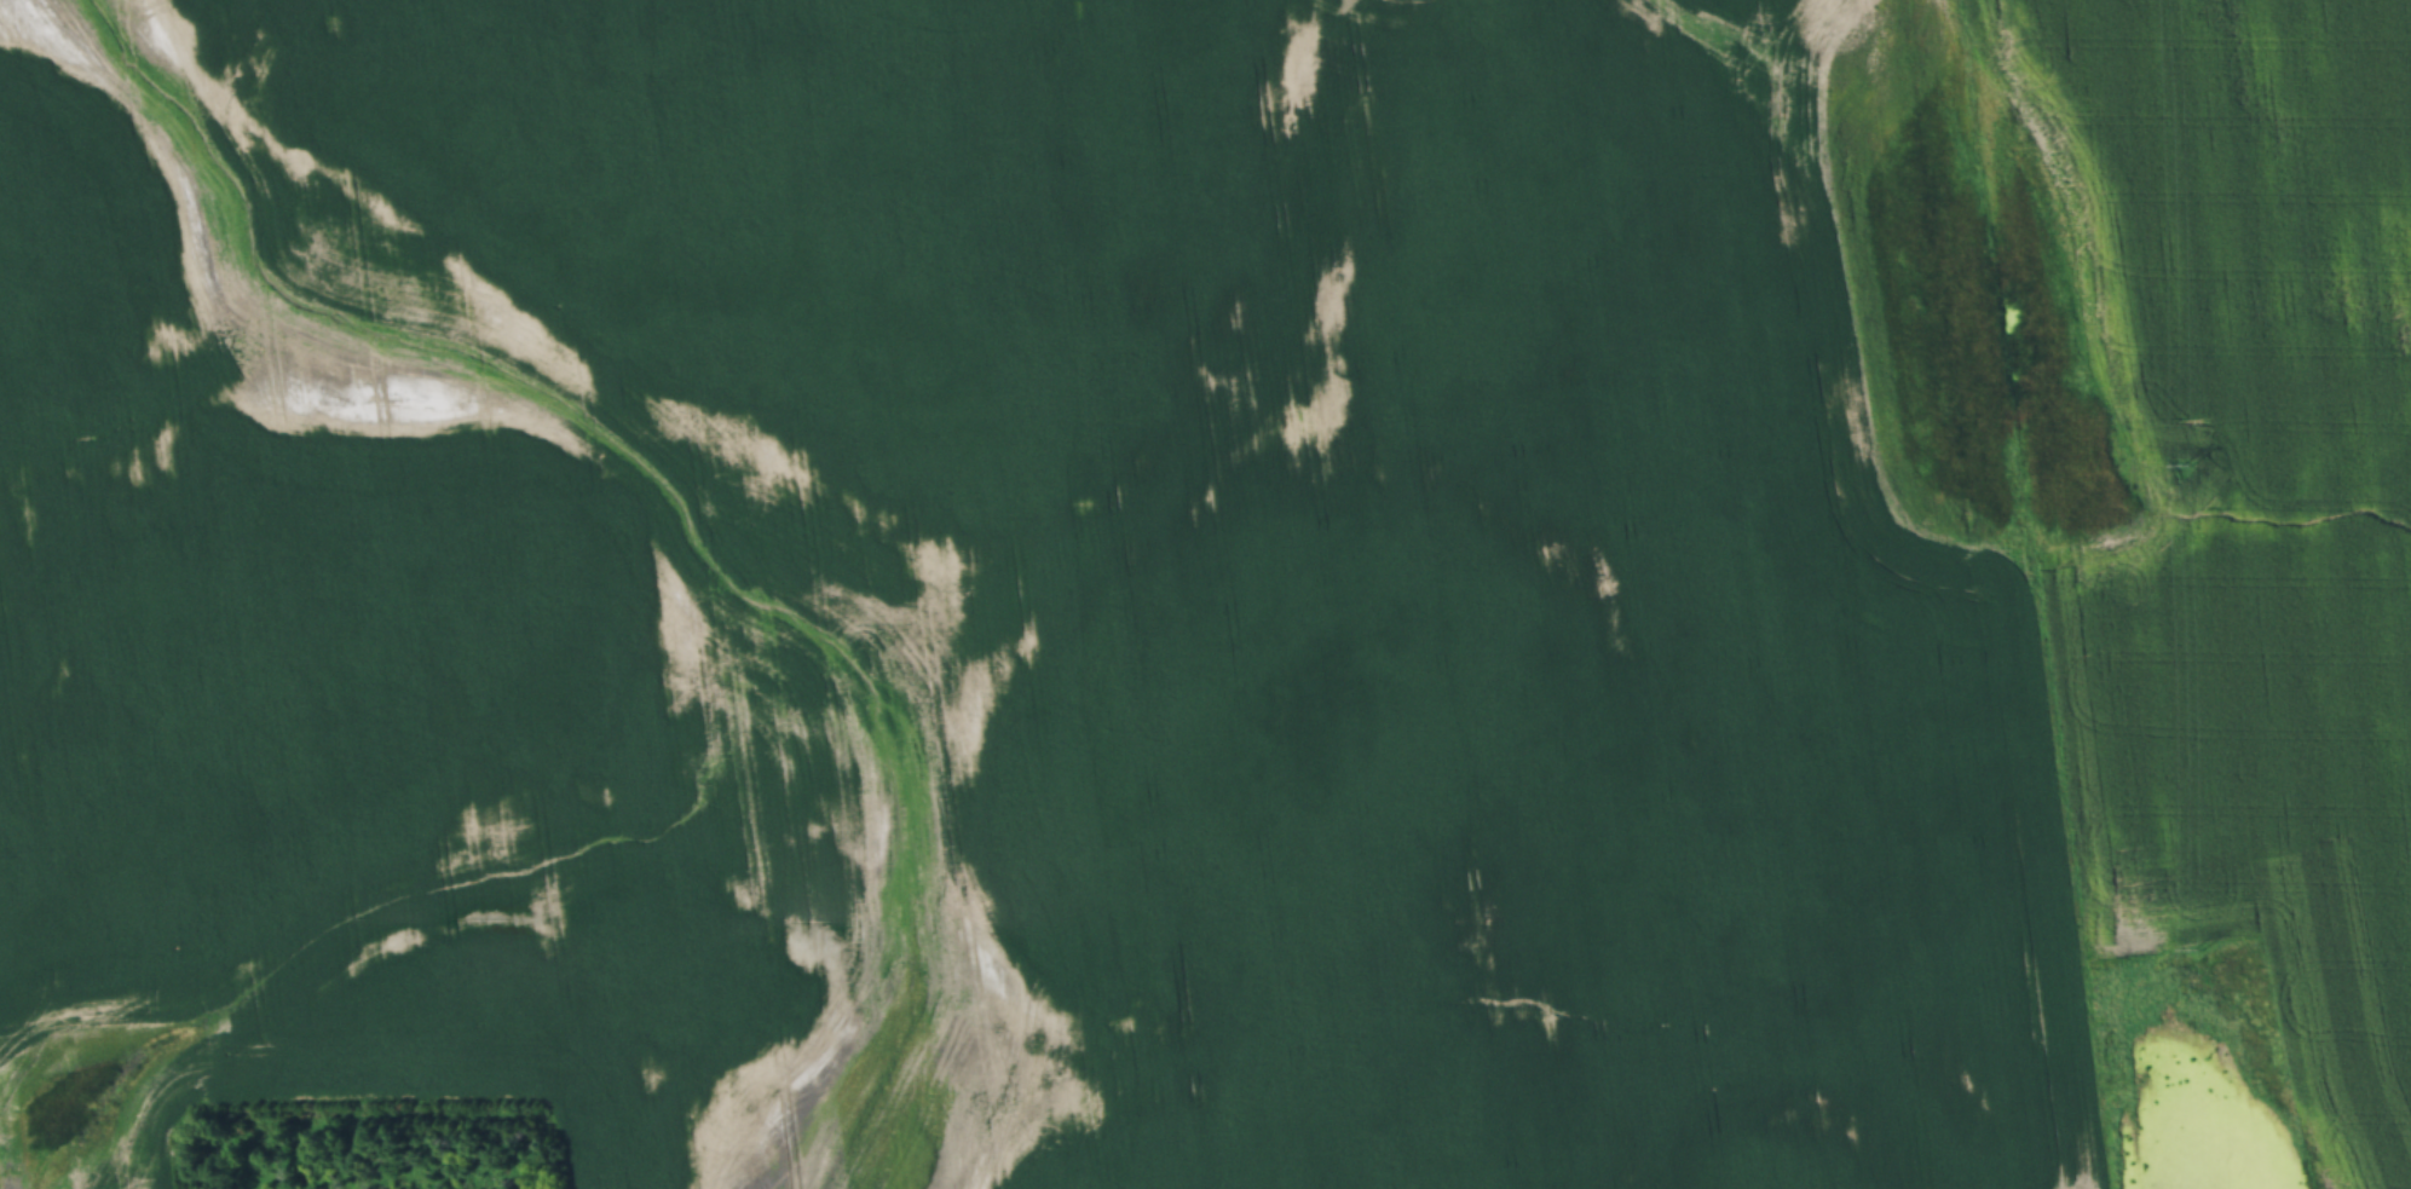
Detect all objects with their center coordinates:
power tower: (2187, 466)
power tower: (2198, 950)

